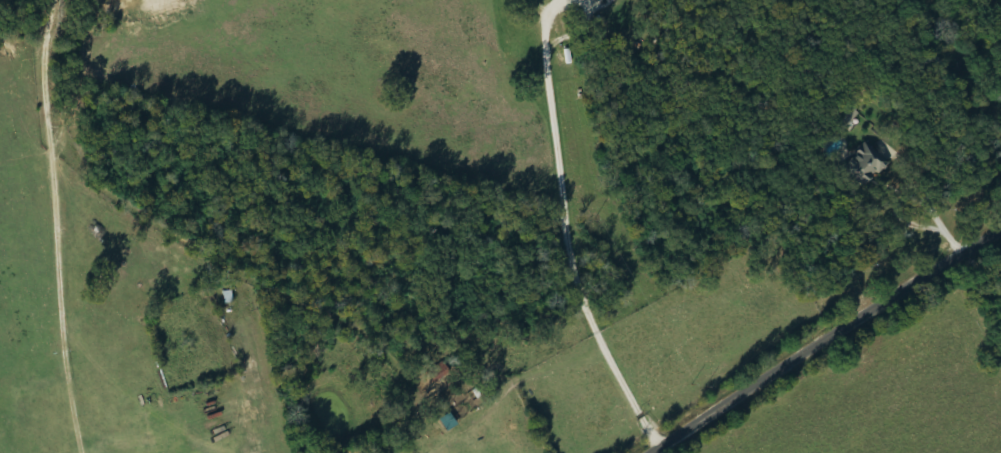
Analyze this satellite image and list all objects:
building: (852, 119)
building: (867, 166)
road: (722, 182)
road: (829, 342)
building: (441, 372)

